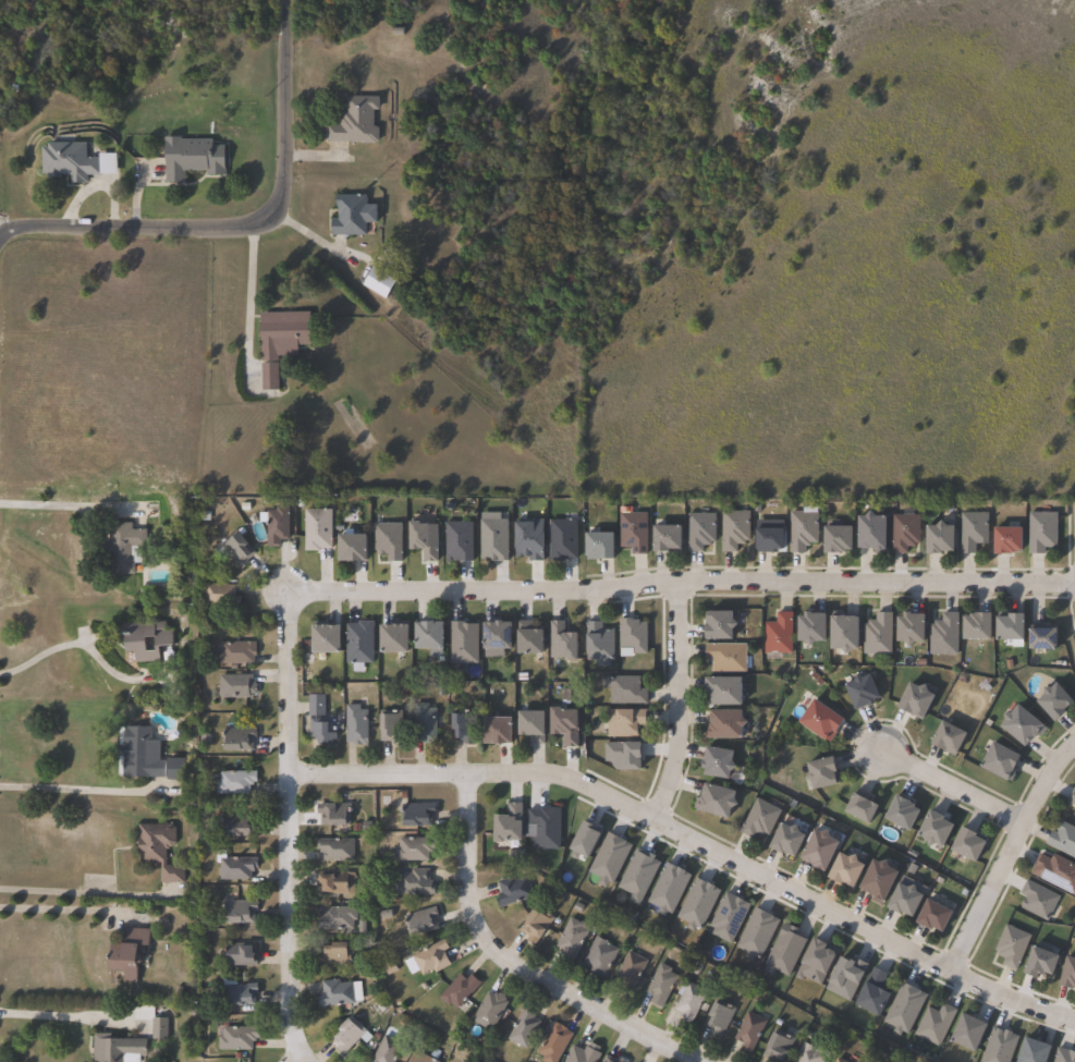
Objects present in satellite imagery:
building: (354, 121)
building: (192, 157)
building: (68, 161)
building: (350, 216)
road: (249, 227)
road: (2, 234)
building: (378, 282)
road: (247, 305)
building: (283, 333)
building: (267, 377)
road: (57, 506)
building: (276, 525)
building: (317, 529)
building: (734, 529)
building: (802, 530)
building: (699, 532)
building: (973, 532)
building: (1042, 532)
building: (633, 533)
building: (874, 533)
building: (905, 533)
building: (493, 537)
building: (668, 538)
building: (529, 539)
building: (941, 539)
building: (1010, 539)
building: (424, 540)
building: (562, 540)
building: (770, 540)
building: (839, 540)
building: (388, 541)
building: (459, 541)
building: (600, 546)
building: (121, 548)
building: (352, 548)
building: (234, 550)
road: (442, 589)
building: (220, 596)
building: (721, 626)
building: (979, 626)
building: (813, 627)
building: (1012, 627)
building: (913, 630)
building: (846, 634)
building: (634, 635)
building: (779, 635)
building: (879, 635)
building: (944, 636)
building: (430, 638)
building: (145, 639)
building: (326, 639)
building: (394, 639)
building: (497, 639)
building: (529, 640)
building: (1045, 640)
road: (77, 643)
building: (359, 643)
building: (562, 643)
building: (463, 644)
building: (599, 644)
building: (235, 654)
building: (728, 658)
building: (236, 686)
building: (625, 691)
building: (725, 692)
building: (864, 693)
road: (673, 700)
building: (918, 701)
building: (1058, 703)
building: (320, 721)
building: (822, 722)
building: (624, 723)
building: (355, 724)
building: (424, 724)
building: (728, 725)
building: (533, 727)
building: (565, 727)
building: (1023, 727)
building: (390, 729)
building: (463, 729)
building: (499, 732)
building: (236, 738)
building: (951, 740)
building: (147, 758)
building: (1003, 762)
building: (720, 764)
building: (823, 774)
building: (235, 783)
road: (948, 788)
road: (82, 790)
building: (1072, 795)
building: (718, 802)
building: (863, 810)
building: (331, 813)
building: (416, 813)
building: (904, 815)
building: (760, 820)
building: (237, 825)
building: (510, 827)
building: (545, 828)
building: (937, 831)
road: (693, 839)
building: (1063, 839)
building: (789, 842)
building: (970, 846)
building: (158, 849)
building: (335, 849)
building: (414, 849)
road: (1005, 850)
building: (821, 852)
building: (611, 859)
building: (236, 869)
building: (1056, 870)
building: (848, 872)
building: (337, 882)
building: (413, 882)
building: (881, 882)
building: (513, 889)
road: (86, 891)
building: (1039, 899)
building: (907, 902)
road: (63, 910)
building: (237, 913)
road: (991, 913)
building: (335, 918)
building: (937, 918)
building: (420, 920)
building: (535, 924)
building: (750, 932)
building: (572, 939)
building: (1006, 944)
building: (127, 951)
building: (777, 952)
building: (334, 953)
building: (240, 954)
building: (599, 956)
building: (428, 957)
building: (807, 960)
building: (1043, 961)
road: (513, 966)
building: (630, 969)
building: (1070, 973)
building: (662, 981)
building: (459, 989)
building: (338, 992)
building: (875, 992)
building: (240, 993)
building: (688, 1000)
building: (489, 1010)
road: (69, 1014)
building: (718, 1016)
building: (929, 1023)
building: (158, 1027)
building: (524, 1027)
building: (749, 1030)
building: (960, 1030)
building: (346, 1034)
building: (236, 1037)
building: (554, 1042)
building: (114, 1047)
building: (778, 1048)
building: (386, 1050)
building: (1025, 1051)
building: (583, 1053)
building: (811, 1053)
building: (418, 1058)
building: (621, 1059)
building: (610, 1060)
building: (840, 1060)

